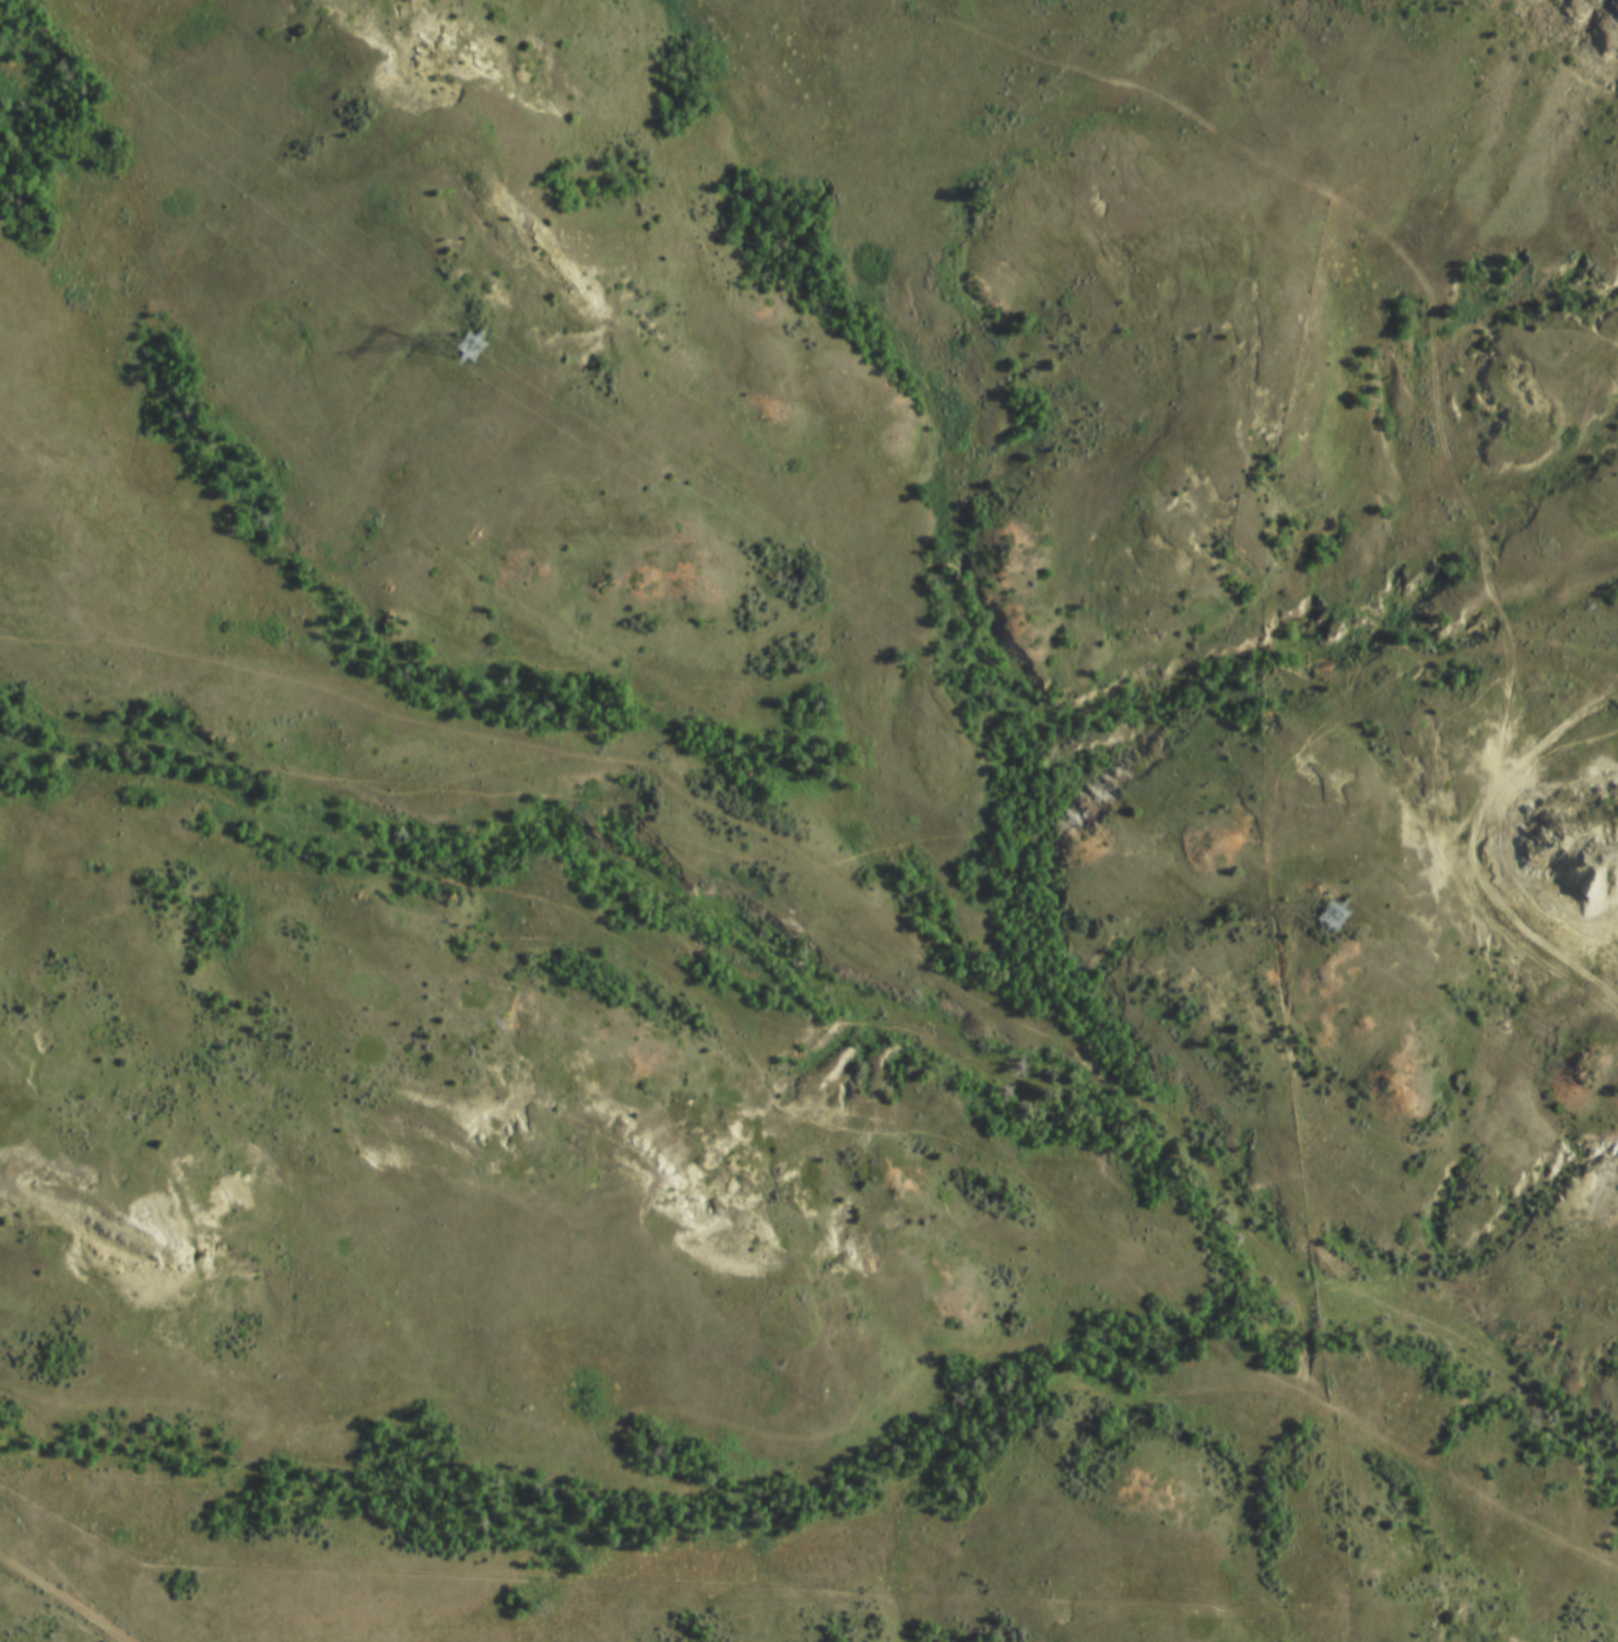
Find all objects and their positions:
power tower: (464, 350)
power tower: (1327, 914)
road: (67, 1597)

